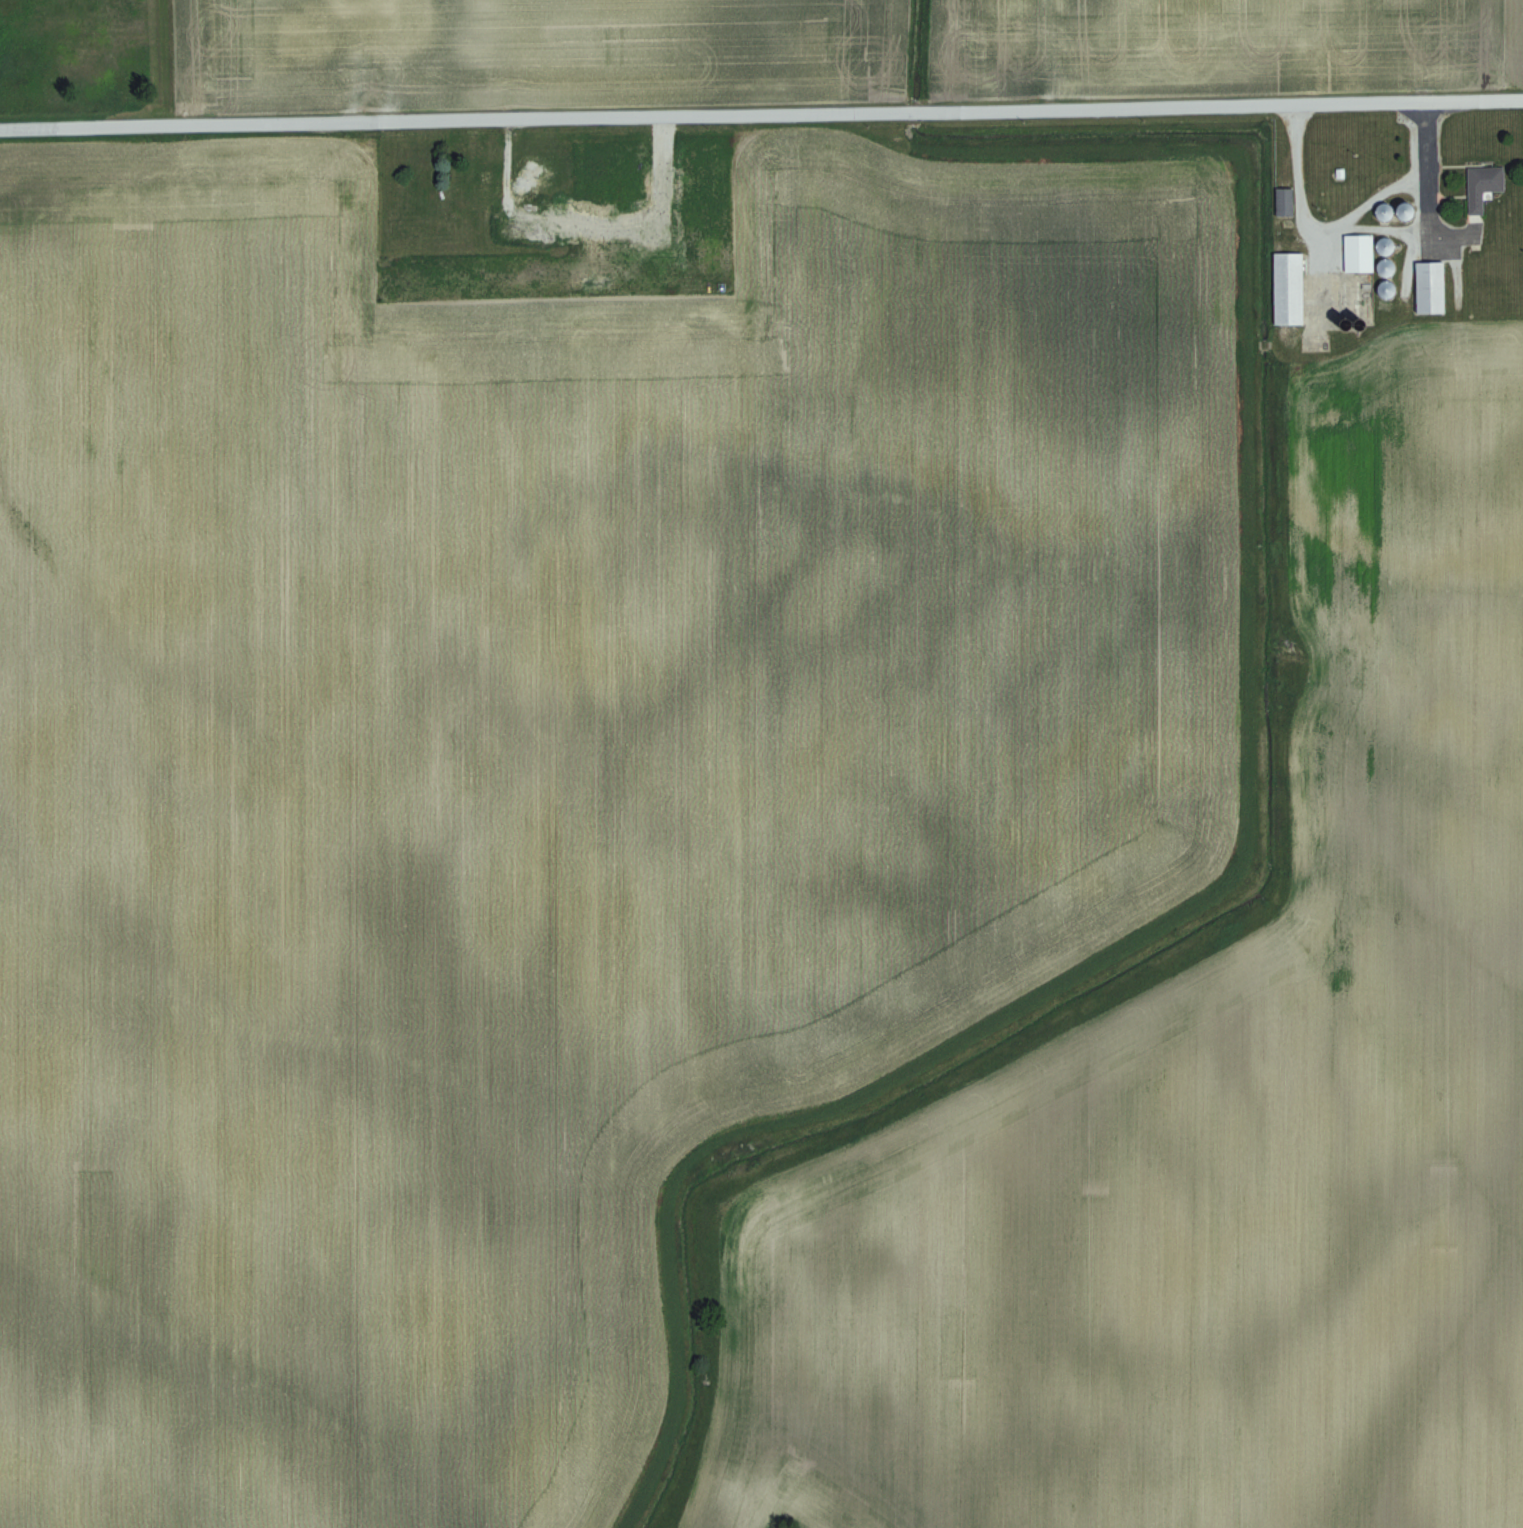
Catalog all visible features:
building: (420, 16)
building: (315, 48)
road: (761, 116)
building: (486, 179)
building: (1485, 185)
building: (1286, 201)
road: (1344, 226)
road: (1413, 237)
building: (1361, 252)
building: (1431, 286)
building: (1290, 288)

